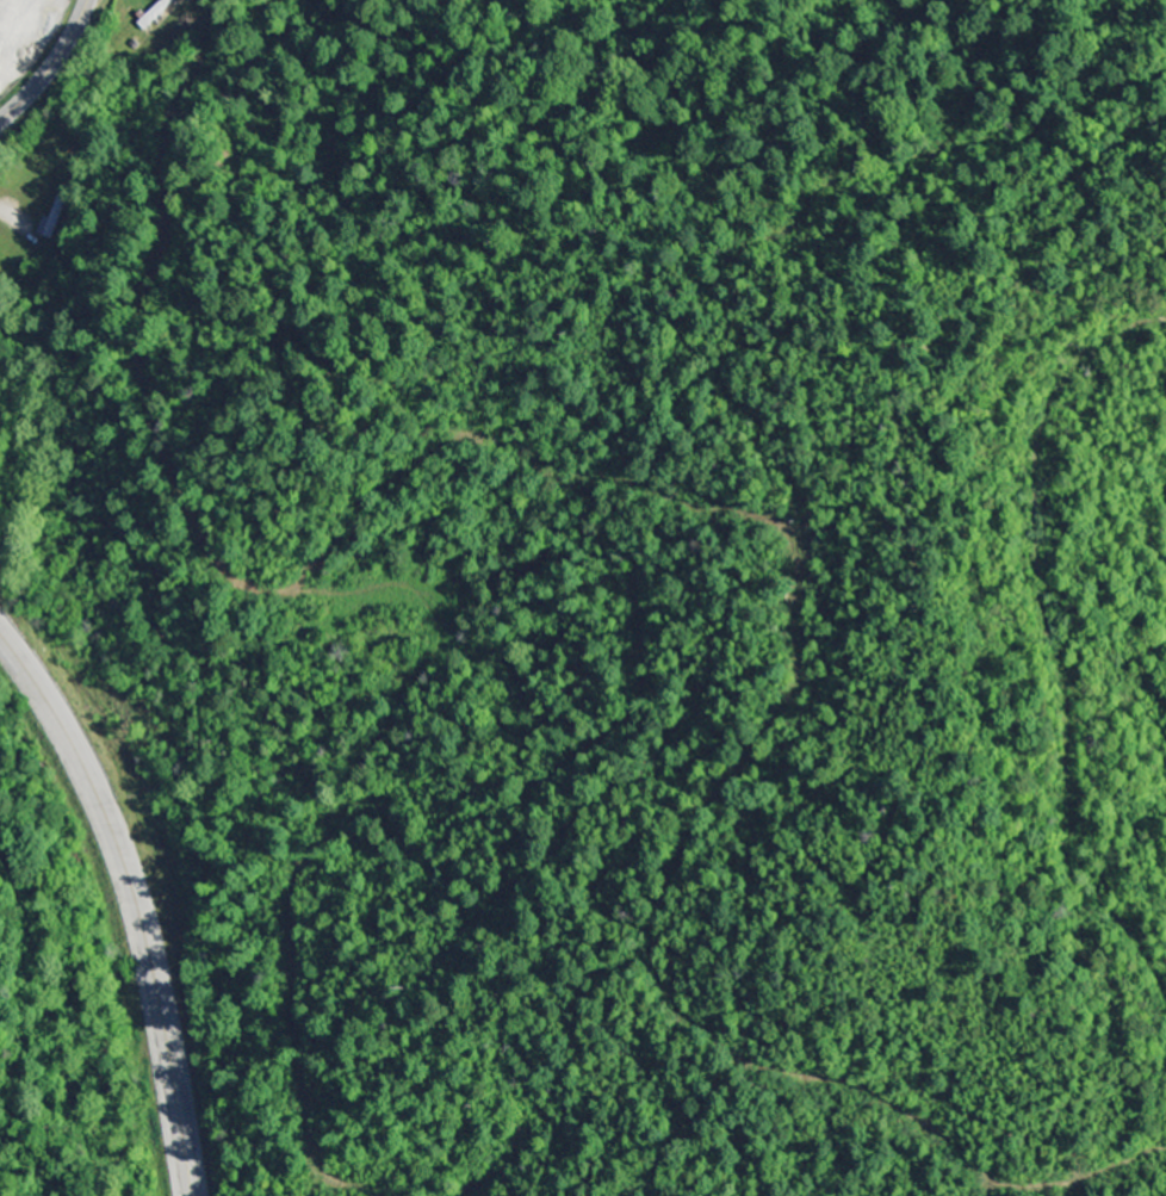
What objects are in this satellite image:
building: (159, 14)
road: (50, 64)
road: (135, 900)

